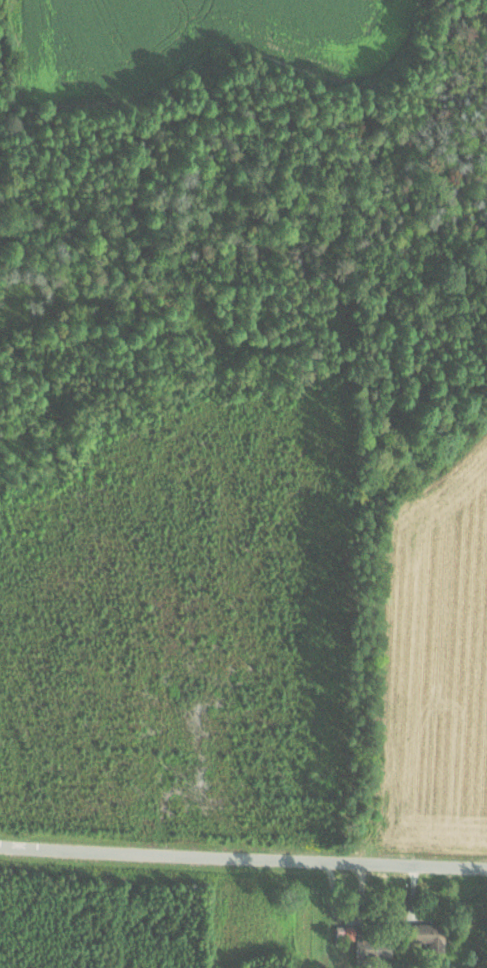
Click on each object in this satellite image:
road: (243, 861)
building: (429, 933)
building: (375, 947)

